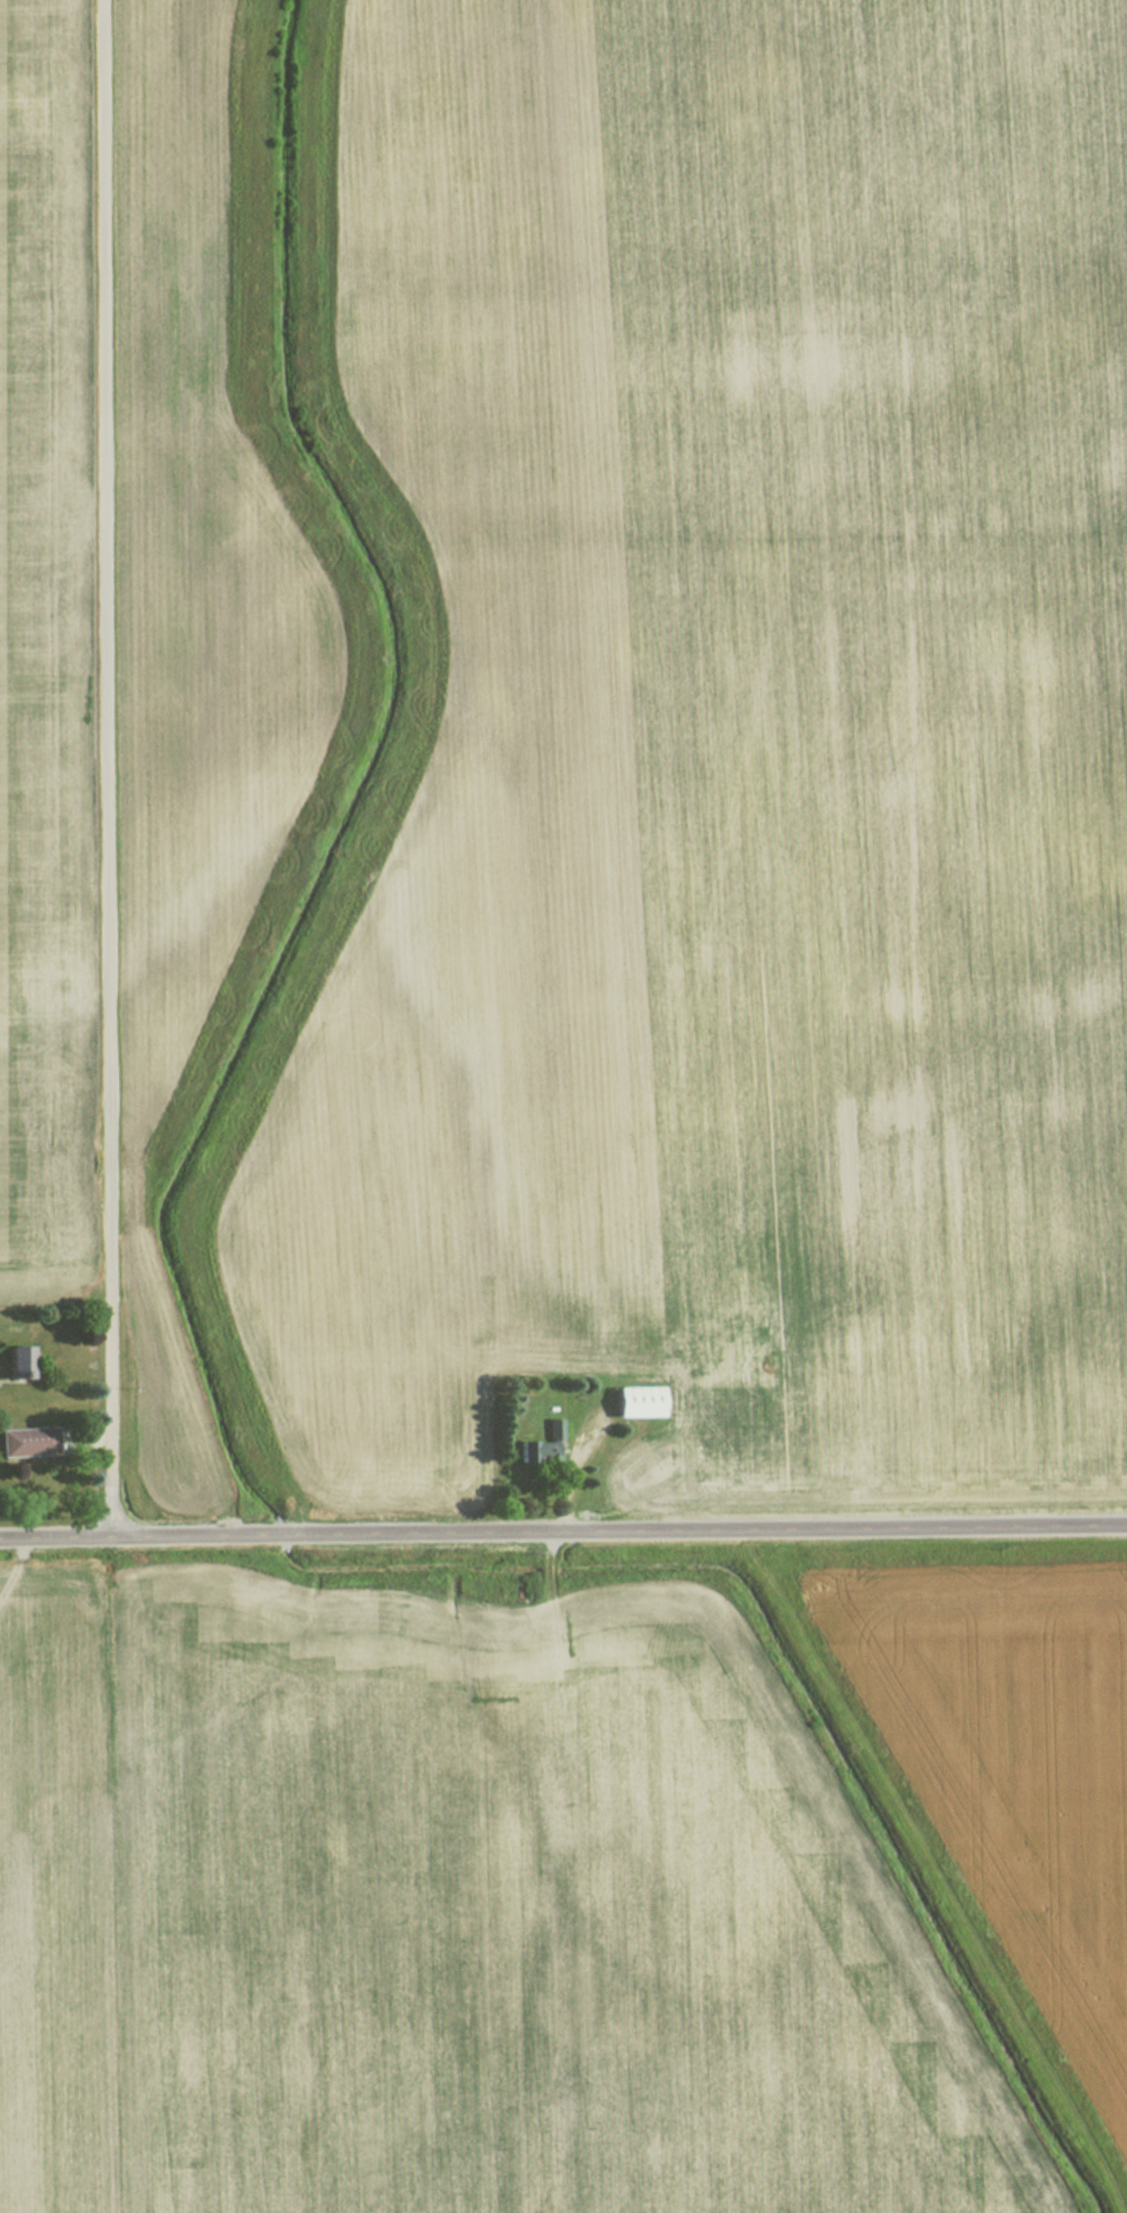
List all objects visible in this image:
crop: (195, 573)
crop: (36, 667)
crop: (854, 725)
road: (107, 768)
crop: (437, 805)
building: (17, 1355)
building: (635, 1401)
crop: (152, 1414)
building: (26, 1442)
road: (563, 1533)
crop: (1010, 1766)
crop: (449, 1921)

